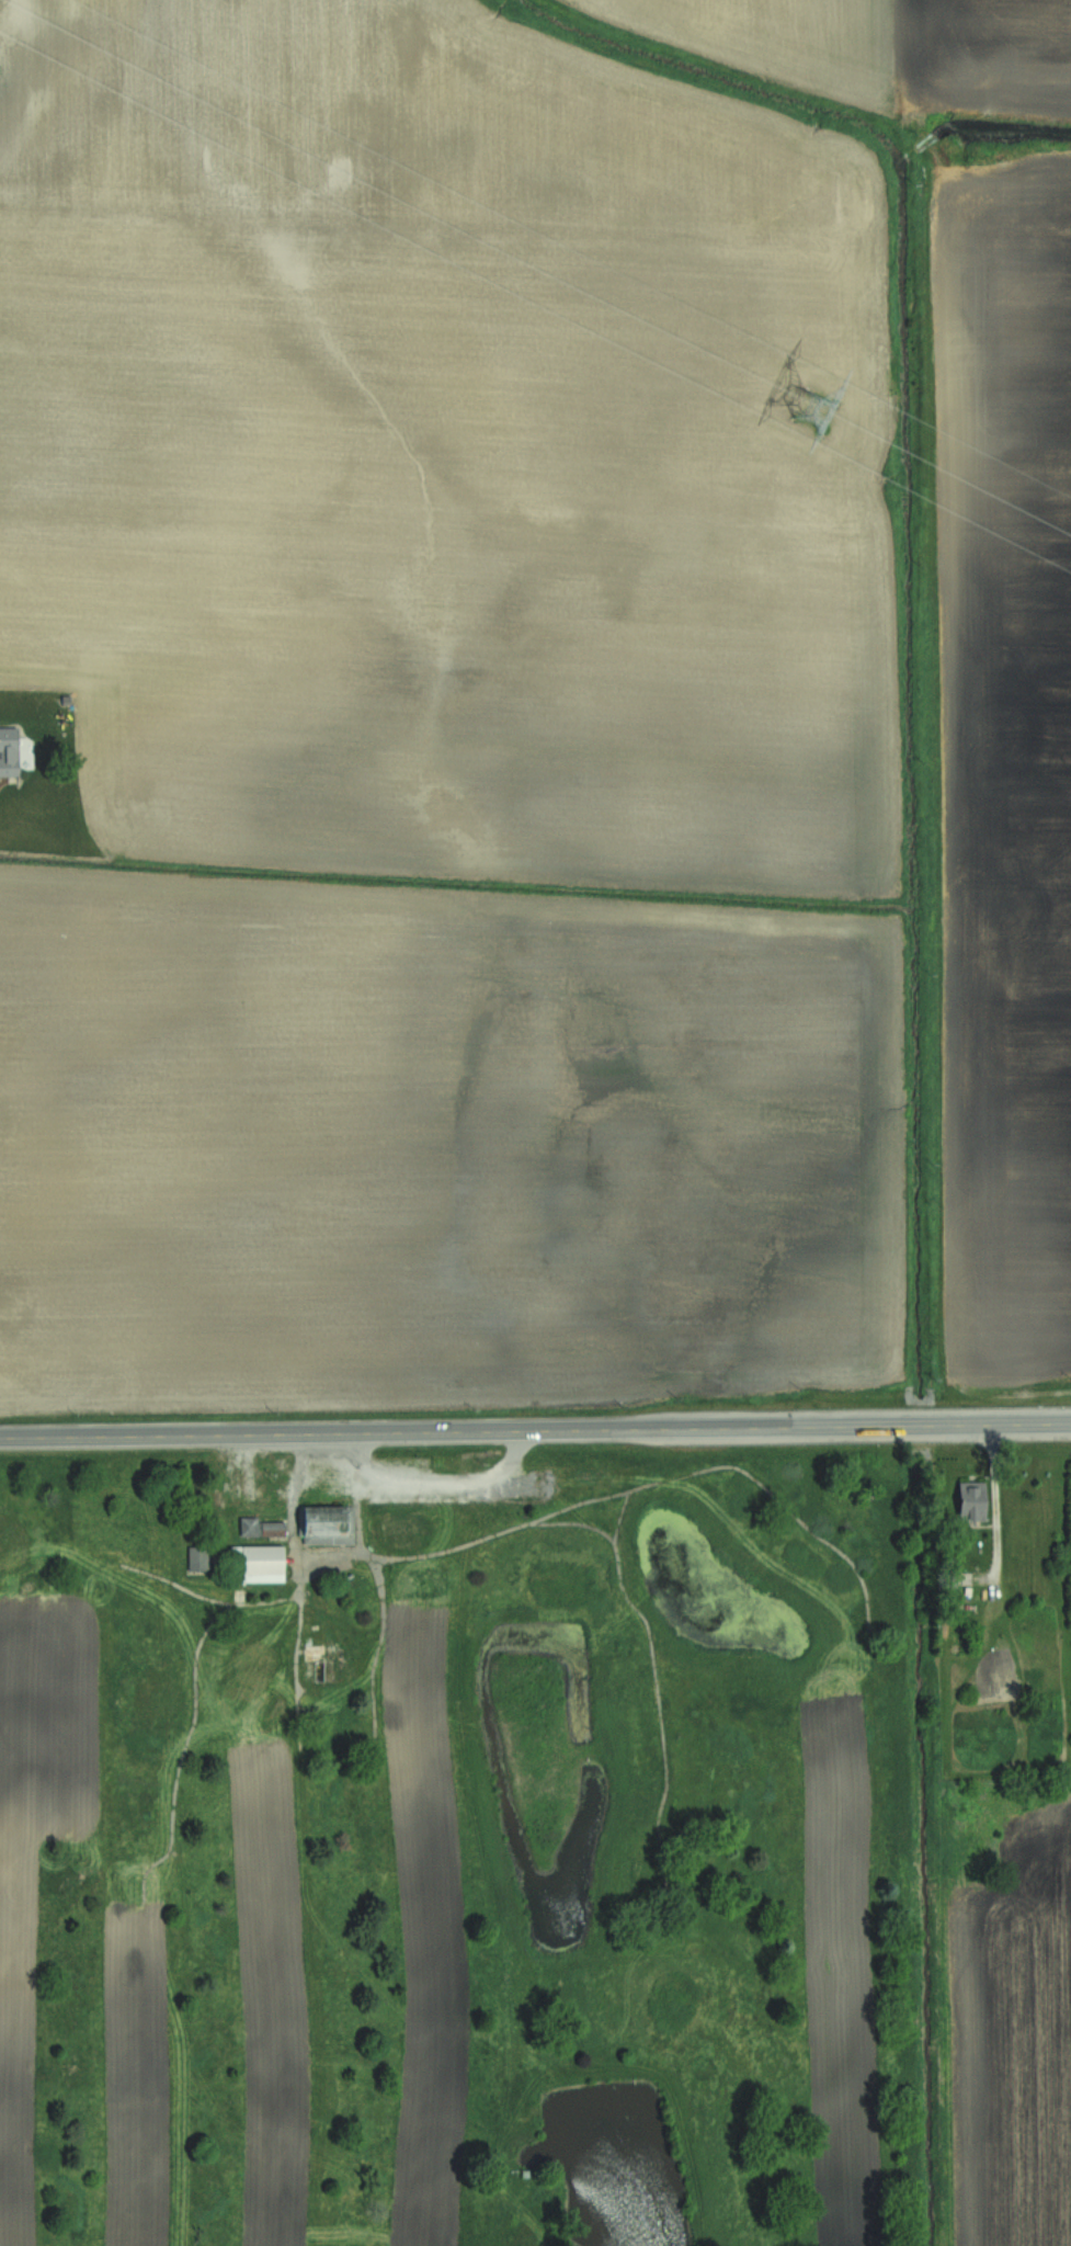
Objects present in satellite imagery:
power tower: (796, 407)
building: (9, 752)
road: (535, 1428)
road: (438, 1479)
building: (970, 1500)
building: (329, 1525)
building: (249, 1527)
building: (273, 1529)
building: (201, 1559)
building: (258, 1565)
building: (326, 1664)
park: (464, 1838)

